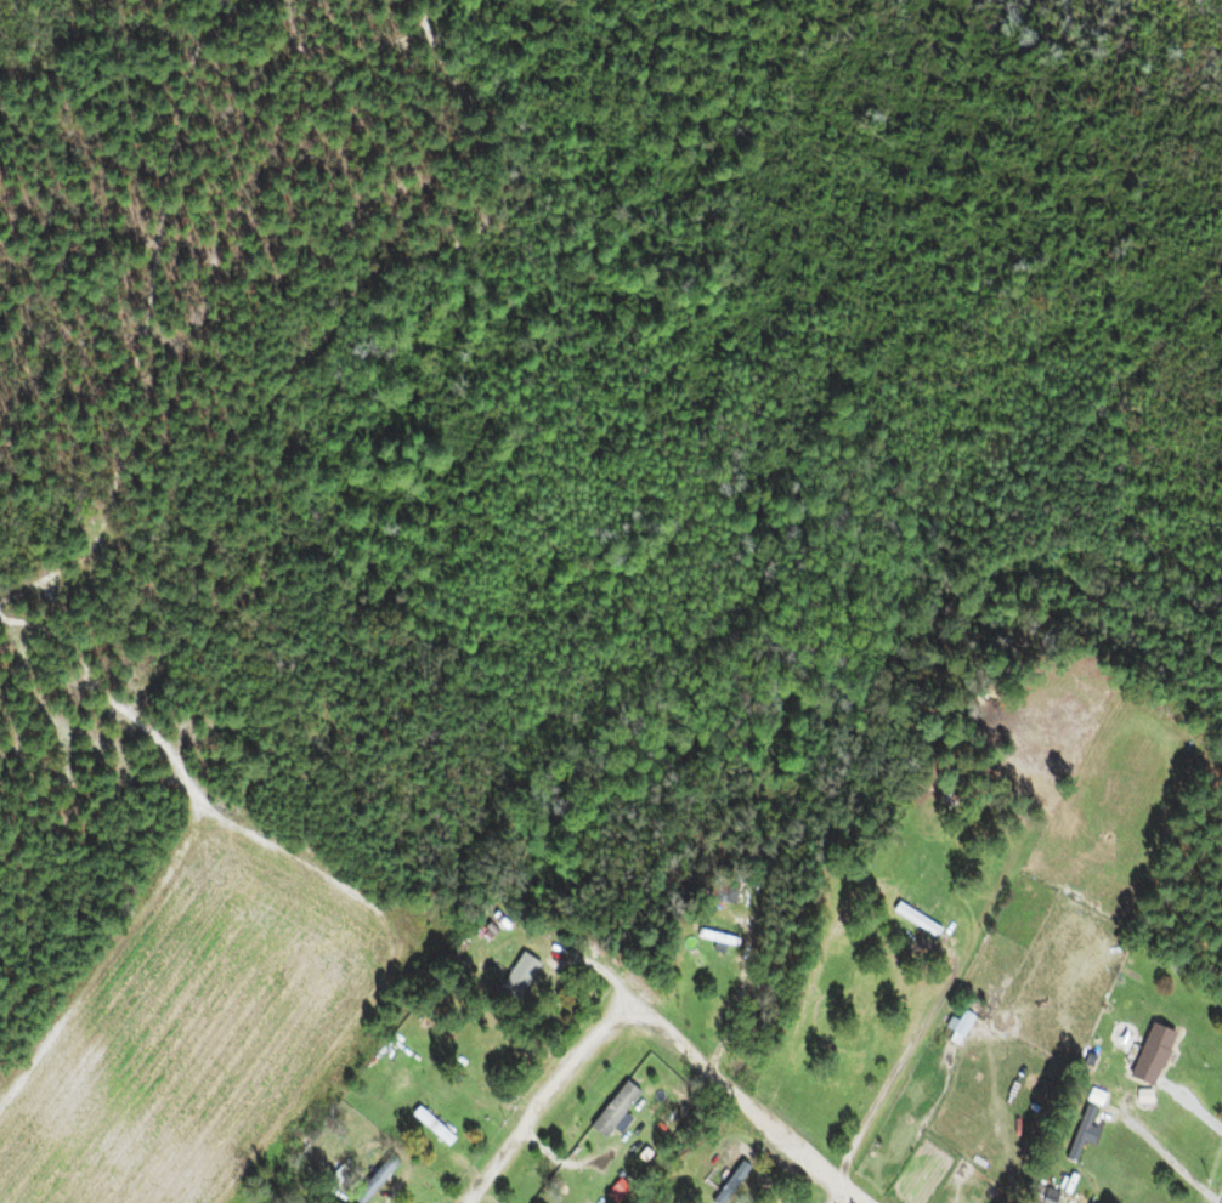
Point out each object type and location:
building: (713, 891)
building: (491, 921)
building: (912, 921)
building: (712, 938)
building: (511, 971)
road: (650, 1023)
building: (960, 1026)
building: (1148, 1056)
building: (611, 1110)
building: (1079, 1136)
building: (335, 1179)
building: (374, 1181)
building: (724, 1191)
building: (1040, 1195)
road: (842, 1196)

